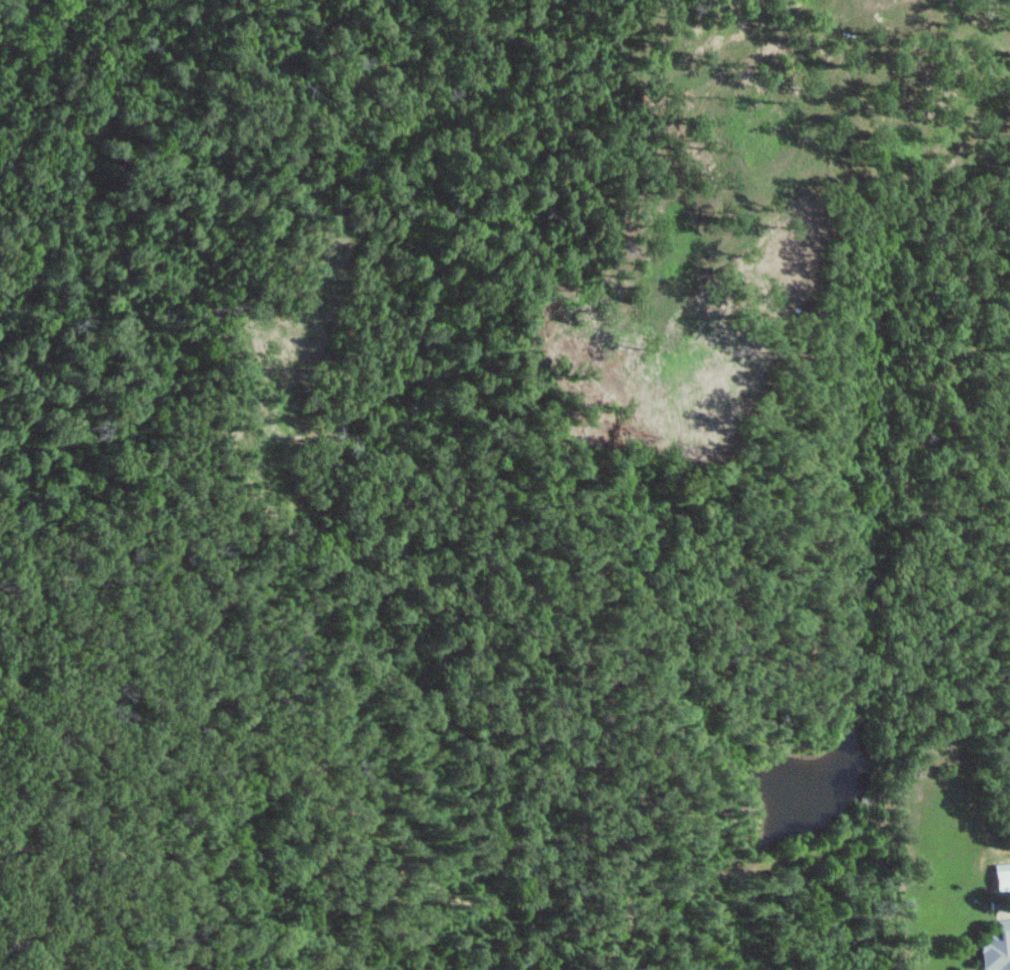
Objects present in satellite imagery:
building: (1001, 877)
building: (995, 949)

